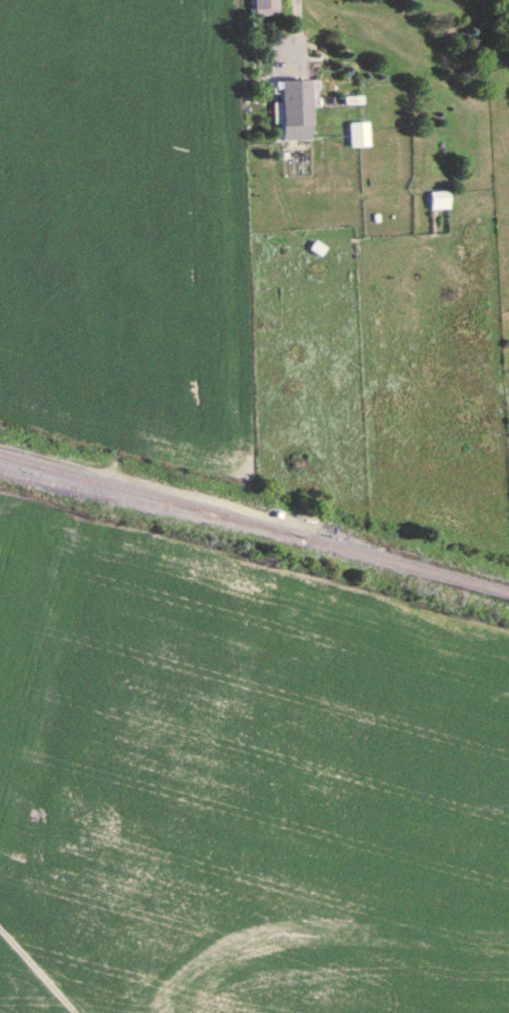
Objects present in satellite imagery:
building: (263, 6)
building: (293, 108)
building: (356, 132)
building: (437, 198)
railway: (136, 501)
railway: (254, 522)

